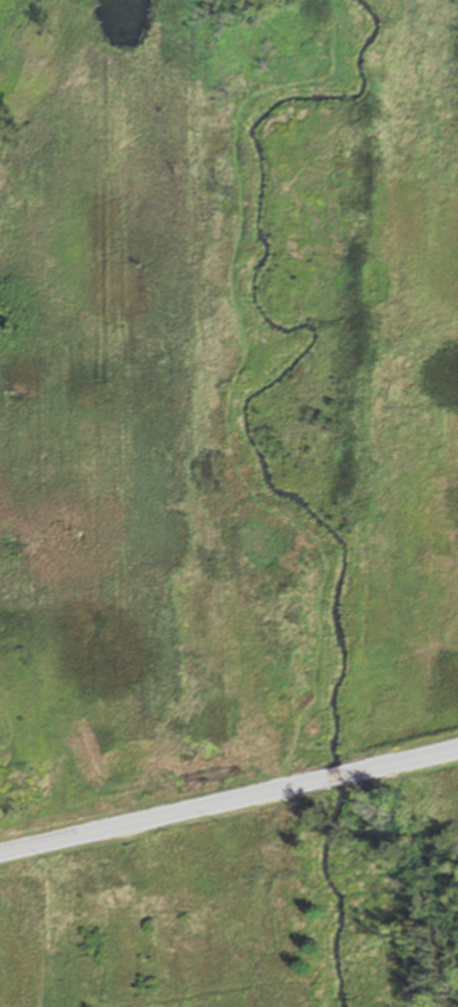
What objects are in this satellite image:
road: (228, 802)

